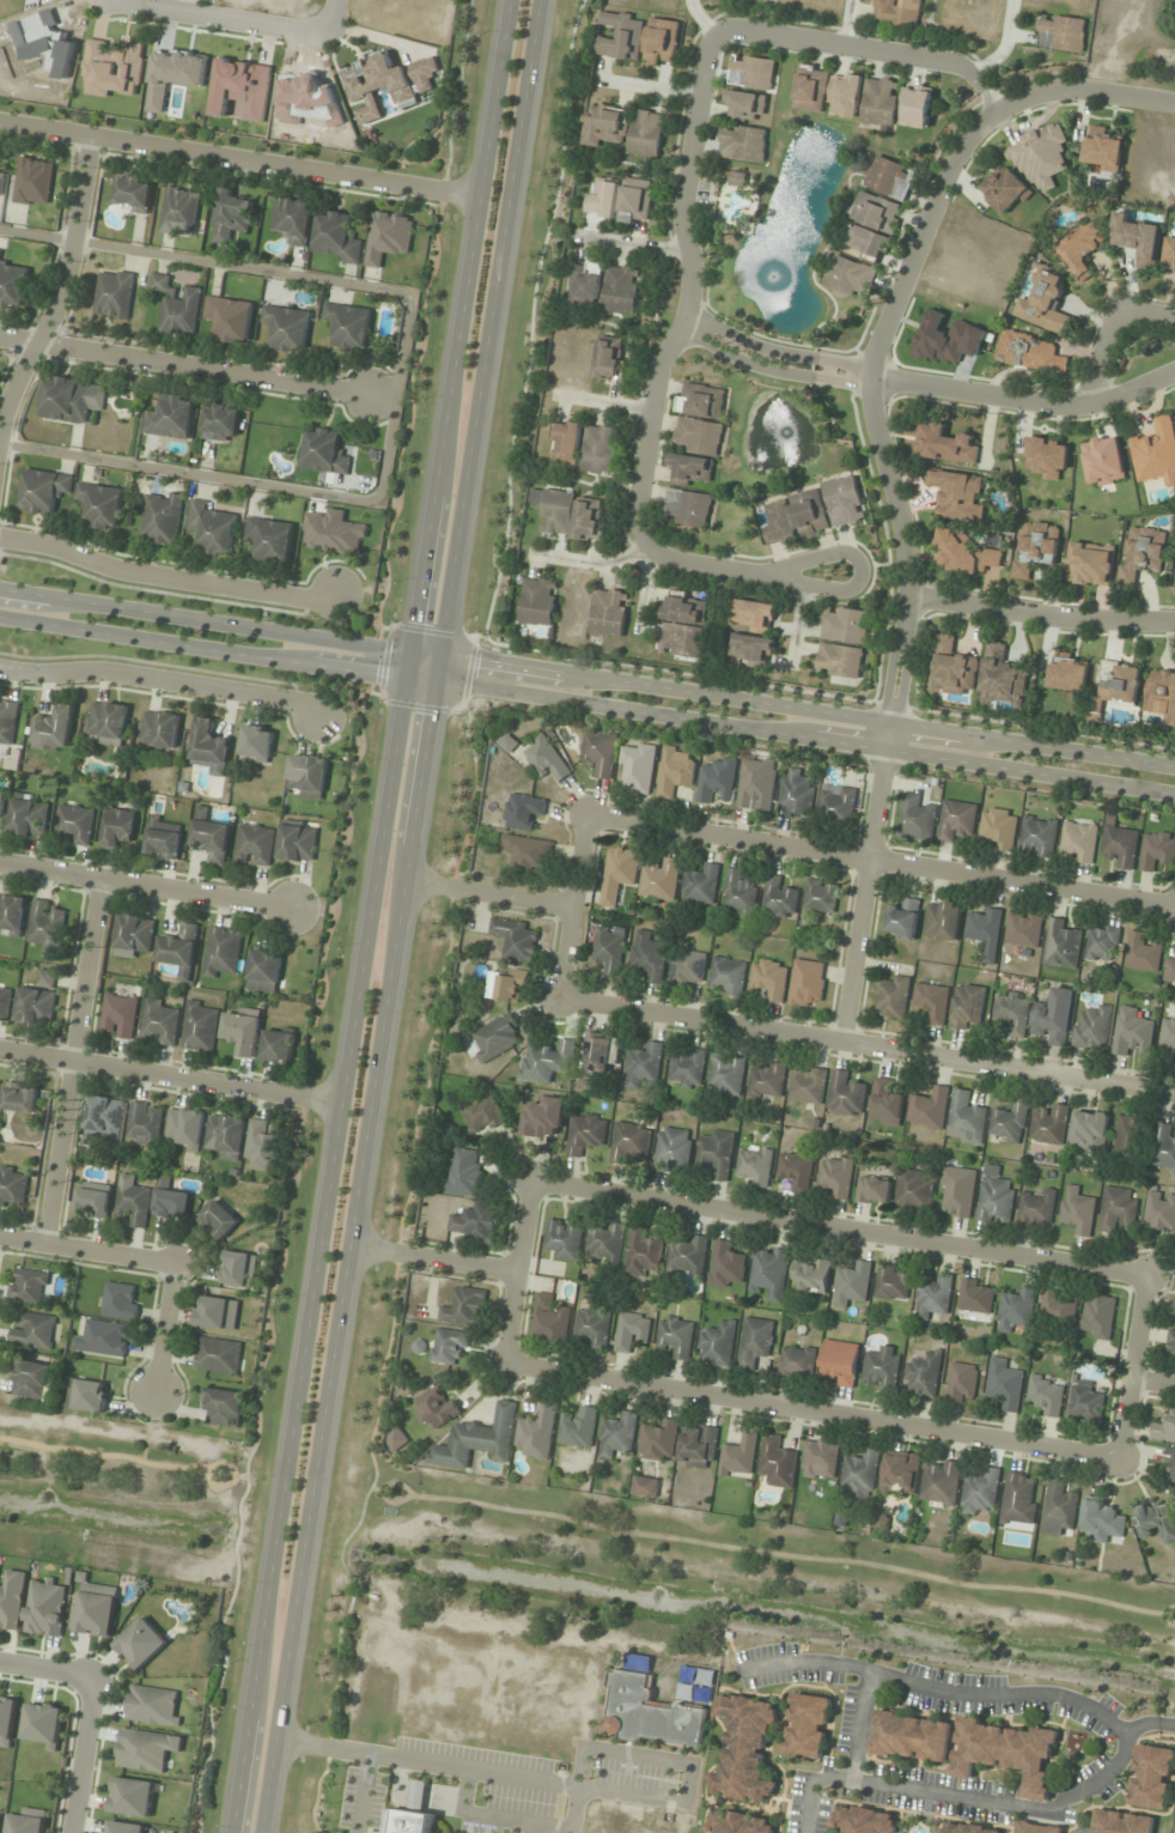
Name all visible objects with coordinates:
building: (894, 13)
road: (237, 14)
road: (330, 14)
building: (1063, 34)
building: (621, 36)
building: (662, 42)
building: (112, 68)
building: (751, 72)
building: (386, 83)
road: (1084, 84)
building: (811, 89)
building: (845, 95)
building: (879, 103)
building: (745, 105)
building: (607, 127)
building: (647, 133)
building: (743, 144)
building: (1103, 153)
road: (239, 159)
building: (890, 178)
building: (1, 182)
building: (34, 182)
building: (1004, 189)
building: (133, 193)
building: (635, 201)
building: (179, 211)
building: (877, 212)
building: (231, 217)
building: (293, 219)
building: (336, 237)
building: (388, 237)
building: (1138, 239)
building: (866, 242)
road: (635, 245)
building: (1083, 249)
building: (1169, 253)
building: (0, 254)
building: (851, 278)
building: (585, 285)
building: (13, 286)
road: (62, 287)
building: (621, 290)
building: (114, 293)
road: (683, 303)
building: (1045, 304)
building: (176, 306)
building: (230, 318)
building: (348, 324)
building: (286, 327)
road: (1109, 334)
building: (948, 339)
building: (1030, 353)
building: (610, 358)
road: (769, 362)
road: (197, 366)
road: (397, 380)
building: (71, 399)
building: (700, 400)
road: (1023, 400)
road: (602, 402)
building: (170, 418)
building: (220, 423)
building: (698, 437)
building: (566, 442)
building: (945, 445)
building: (601, 449)
building: (324, 451)
building: (1155, 453)
building: (1048, 457)
building: (1103, 461)
building: (690, 471)
building: (43, 490)
building: (958, 496)
building: (844, 500)
building: (99, 505)
building: (688, 508)
building: (556, 512)
building: (810, 514)
building: (160, 518)
building: (589, 520)
building: (779, 524)
building: (211, 528)
building: (333, 532)
building: (270, 539)
building: (1035, 548)
building: (1141, 553)
building: (967, 554)
road: (906, 558)
road: (590, 560)
building: (1090, 564)
road: (164, 581)
road: (646, 588)
building: (537, 602)
building: (686, 608)
building: (609, 613)
road: (1039, 613)
building: (754, 615)
road: (795, 621)
building: (845, 625)
building: (682, 641)
traffic signals: (409, 647)
building: (750, 649)
traffic signals: (445, 651)
building: (840, 661)
building: (954, 668)
road: (587, 674)
building: (1067, 675)
building: (1002, 678)
road: (162, 679)
traffic signals: (404, 680)
traffic signals: (438, 685)
building: (1115, 687)
building: (1161, 696)
road: (587, 704)
building: (7, 722)
building: (108, 723)
building: (54, 729)
building: (159, 729)
building: (256, 743)
building: (507, 743)
building: (209, 747)
building: (599, 753)
building: (544, 758)
building: (638, 766)
building: (674, 773)
building: (308, 776)
building: (717, 782)
building: (756, 785)
building: (796, 795)
building: (2, 801)
building: (838, 806)
building: (524, 812)
building: (29, 818)
building: (915, 818)
building: (956, 820)
building: (75, 824)
building: (999, 827)
building: (118, 829)
building: (1037, 836)
building: (164, 838)
building: (212, 839)
building: (298, 842)
building: (1079, 842)
building: (1119, 844)
building: (255, 845)
building: (1157, 850)
building: (528, 852)
road: (878, 860)
building: (620, 870)
building: (660, 880)
road: (144, 886)
building: (700, 886)
road: (488, 892)
building: (741, 893)
building: (821, 897)
building: (779, 899)
road: (570, 904)
building: (12, 915)
road: (366, 915)
road: (400, 916)
building: (903, 919)
building: (942, 919)
building: (47, 928)
building: (1023, 929)
building: (985, 930)
building: (135, 933)
building: (515, 940)
building: (1102, 945)
building: (1061, 946)
building: (179, 949)
building: (609, 951)
building: (223, 952)
building: (1141, 953)
building: (649, 955)
building: (687, 967)
building: (264, 971)
building: (1169, 972)
building: (727, 976)
building: (769, 978)
building: (806, 983)
building: (510, 985)
building: (891, 997)
building: (37, 1000)
building: (932, 1001)
building: (4, 1003)
building: (967, 1006)
building: (120, 1013)
building: (1012, 1013)
building: (1052, 1019)
building: (158, 1022)
building: (200, 1026)
building: (1092, 1027)
building: (243, 1031)
building: (1169, 1031)
building: (1132, 1032)
building: (495, 1038)
road: (865, 1045)
building: (278, 1046)
building: (599, 1054)
road: (69, 1061)
building: (547, 1061)
building: (643, 1066)
building: (687, 1069)
road: (168, 1074)
building: (726, 1076)
building: (767, 1081)
building: (808, 1086)
building: (846, 1095)
building: (20, 1098)
building: (885, 1101)
building: (929, 1109)
building: (481, 1113)
building: (967, 1116)
building: (544, 1117)
building: (104, 1118)
building: (1009, 1122)
building: (145, 1124)
building: (185, 1127)
building: (1049, 1127)
building: (1089, 1130)
building: (585, 1134)
building: (226, 1136)
building: (1127, 1137)
building: (629, 1141)
building: (262, 1147)
building: (1163, 1148)
building: (674, 1149)
building: (717, 1154)
building: (754, 1166)
building: (464, 1172)
building: (796, 1172)
building: (835, 1177)
building: (12, 1186)
building: (873, 1190)
building: (914, 1191)
building: (958, 1192)
building: (996, 1197)
building: (92, 1201)
building: (133, 1202)
building: (171, 1203)
building: (1036, 1209)
building: (1077, 1210)
building: (1118, 1210)
building: (1159, 1212)
building: (219, 1219)
building: (475, 1224)
road: (836, 1226)
building: (564, 1238)
building: (607, 1243)
road: (86, 1249)
building: (643, 1252)
building: (689, 1256)
road: (431, 1257)
building: (725, 1264)
building: (236, 1268)
road: (513, 1270)
building: (771, 1271)
building: (893, 1282)
building: (852, 1285)
building: (29, 1286)
building: (933, 1298)
building: (120, 1300)
building: (975, 1300)
building: (1058, 1307)
building: (1174, 1307)
building: (464, 1309)
building: (1016, 1310)
building: (218, 1313)
building: (1097, 1317)
building: (550, 1322)
road: (165, 1327)
building: (593, 1327)
building: (32, 1330)
building: (632, 1331)
building: (676, 1337)
building: (102, 1339)
building: (718, 1342)
building: (755, 1343)
building: (449, 1346)
building: (1170, 1346)
building: (218, 1355)
building: (797, 1361)
building: (839, 1362)
road: (1132, 1364)
building: (881, 1368)
building: (924, 1372)
road: (1152, 1380)
building: (37, 1382)
building: (1004, 1383)
building: (961, 1384)
building: (87, 1395)
building: (1046, 1396)
building: (1085, 1404)
building: (223, 1407)
building: (434, 1408)
road: (810, 1408)
building: (578, 1427)
building: (1164, 1430)
building: (538, 1432)
building: (617, 1436)
building: (395, 1439)
building: (477, 1439)
building: (658, 1441)
building: (699, 1447)
building: (738, 1457)
building: (820, 1459)
building: (778, 1462)
building: (1170, 1467)
building: (859, 1473)
building: (901, 1473)
building: (940, 1482)
building: (645, 1487)
building: (980, 1492)
building: (1018, 1498)
building: (1059, 1509)
building: (1156, 1521)
building: (1102, 1522)
building: (12, 1598)
building: (47, 1607)
building: (93, 1609)
building: (141, 1643)
road: (44, 1669)
building: (153, 1705)
building: (649, 1714)
building: (7, 1719)
building: (42, 1723)
road: (1149, 1723)
building: (808, 1725)
road: (859, 1726)
road: (1124, 1736)
building: (911, 1737)
building: (145, 1749)
building: (744, 1750)
building: (1009, 1752)
road: (78, 1755)
building: (1151, 1777)
building: (130, 1797)
building: (412, 1814)
building: (0, 1816)
building: (863, 1820)
building: (28, 1821)
building: (738, 1822)
building: (1121, 1822)
building: (124, 1827)
building: (1039, 1828)
building: (970, 1829)

